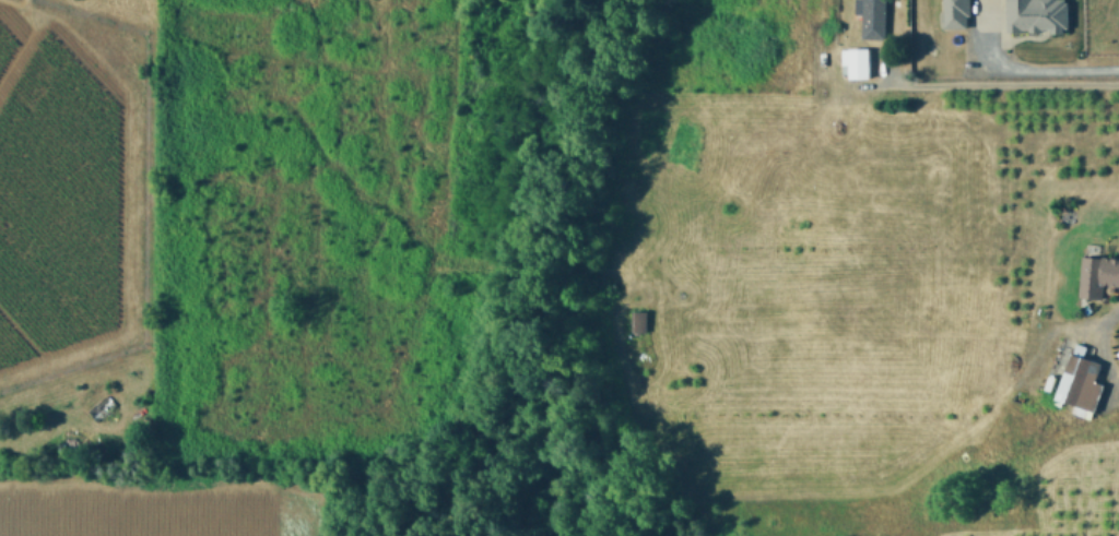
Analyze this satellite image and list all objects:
building: (959, 13)
building: (1040, 14)
building: (874, 17)
building: (859, 61)
road: (1040, 62)
road: (999, 74)
building: (1099, 275)
building: (643, 321)
building: (1083, 380)

